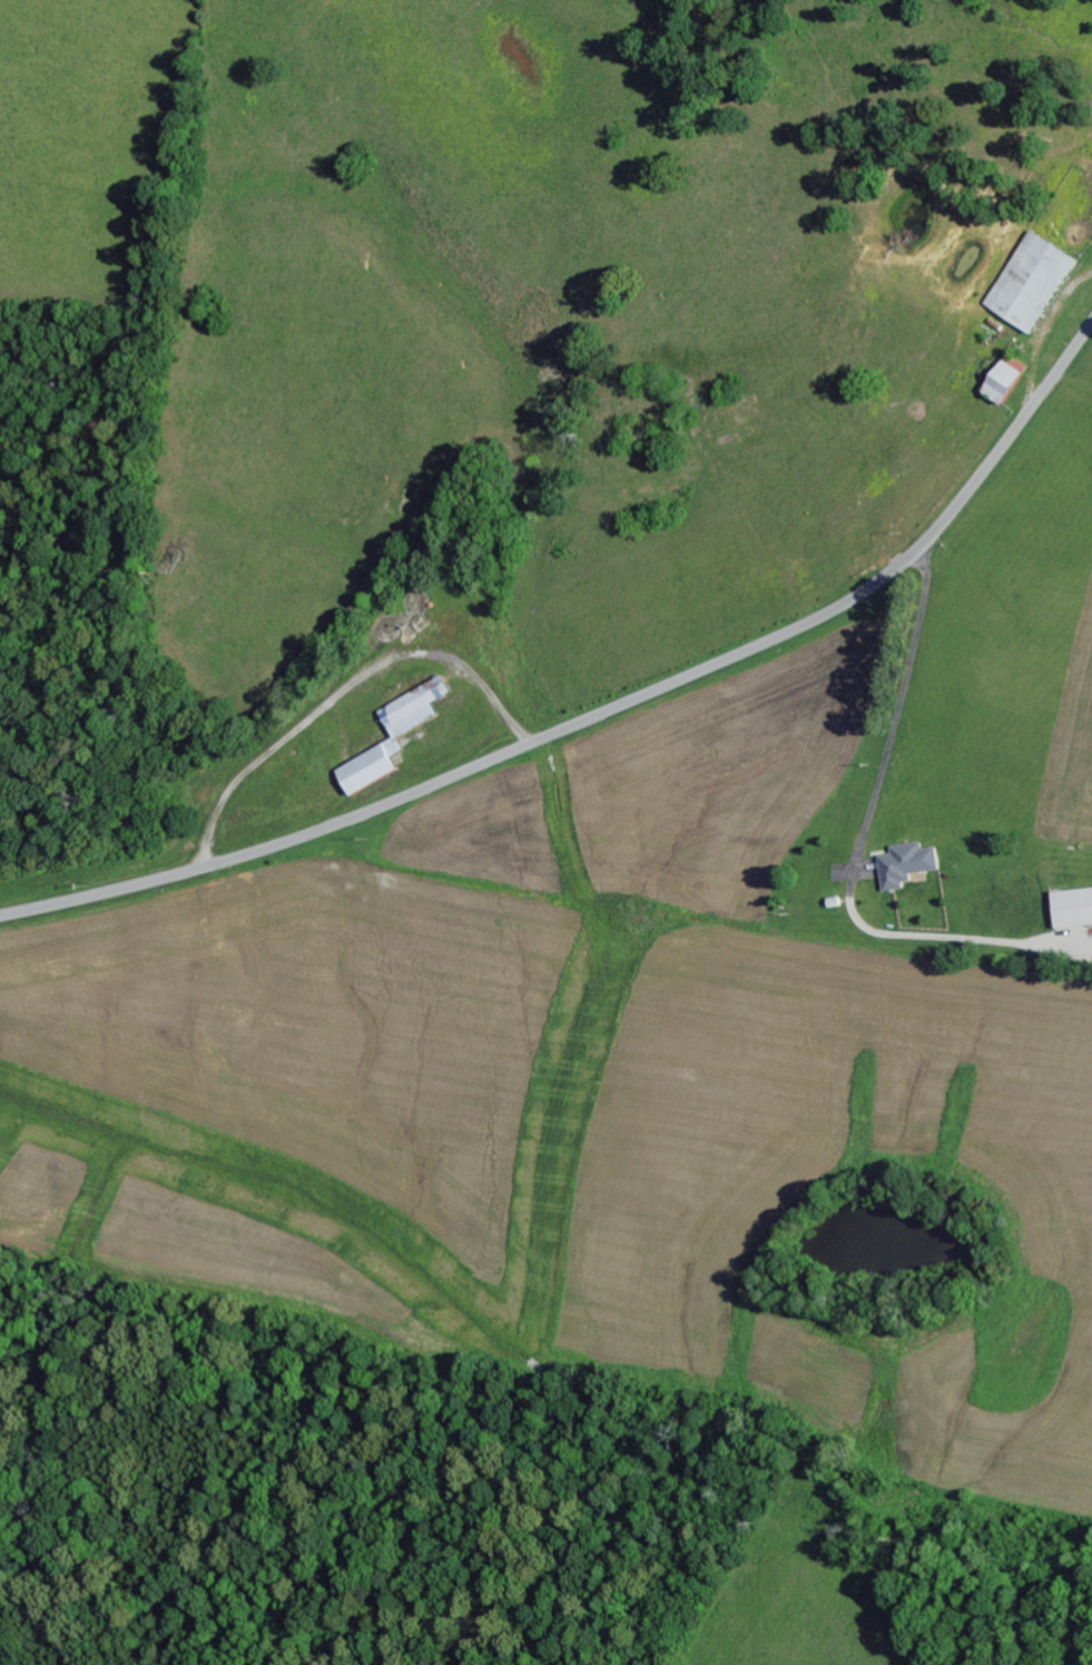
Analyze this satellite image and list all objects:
building: (1031, 282)
building: (1003, 379)
road: (51, 493)
road: (606, 709)
building: (392, 736)
building: (905, 864)
building: (1072, 909)

